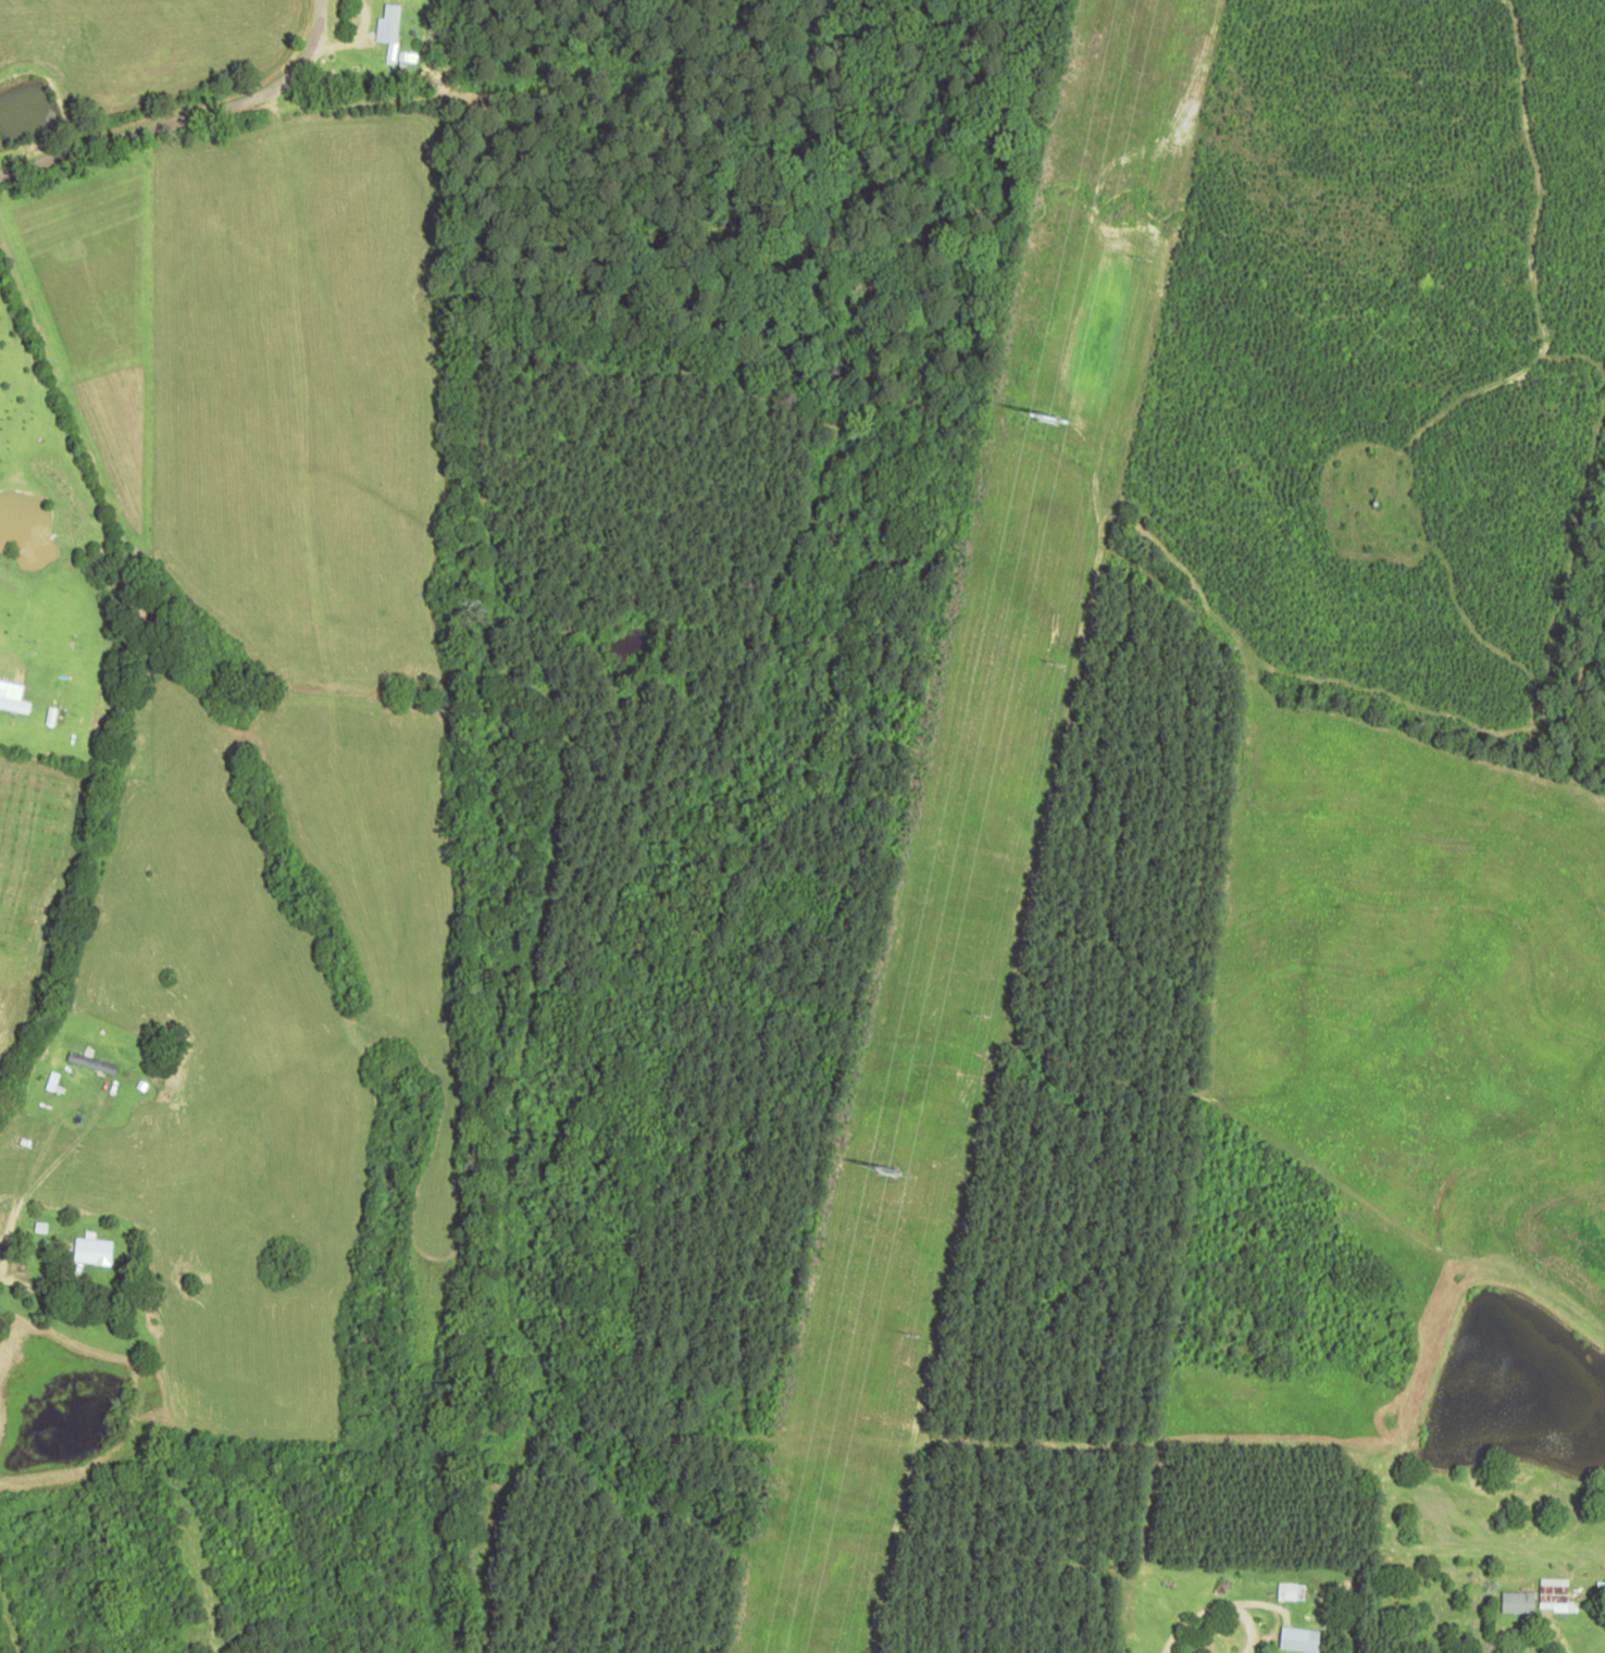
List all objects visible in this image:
building: (389, 29)
road: (197, 136)
power tower: (1041, 423)
building: (12, 697)
building: (91, 1062)
power tower: (882, 1173)
building: (92, 1251)
road: (1211, 1575)
building: (1292, 1591)
building: (1556, 1594)
building: (1519, 1602)
building: (1299, 1638)

